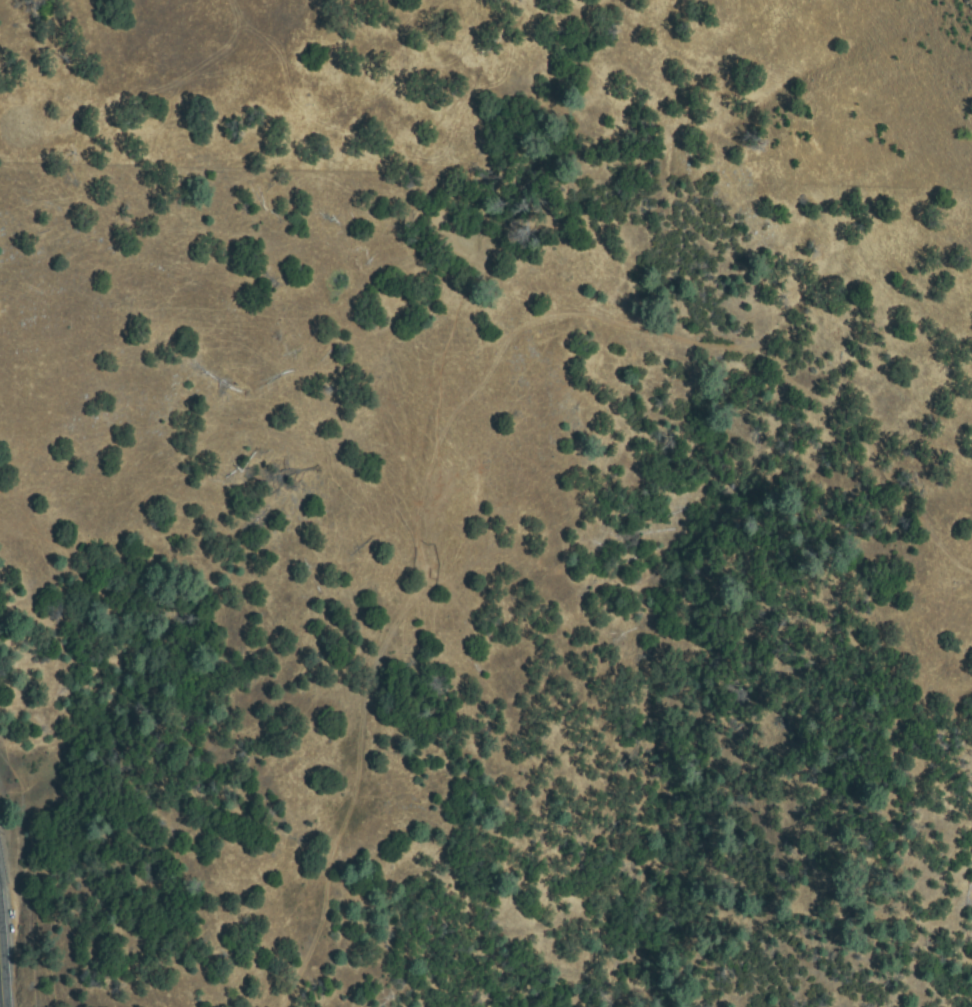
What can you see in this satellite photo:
road: (1, 989)

